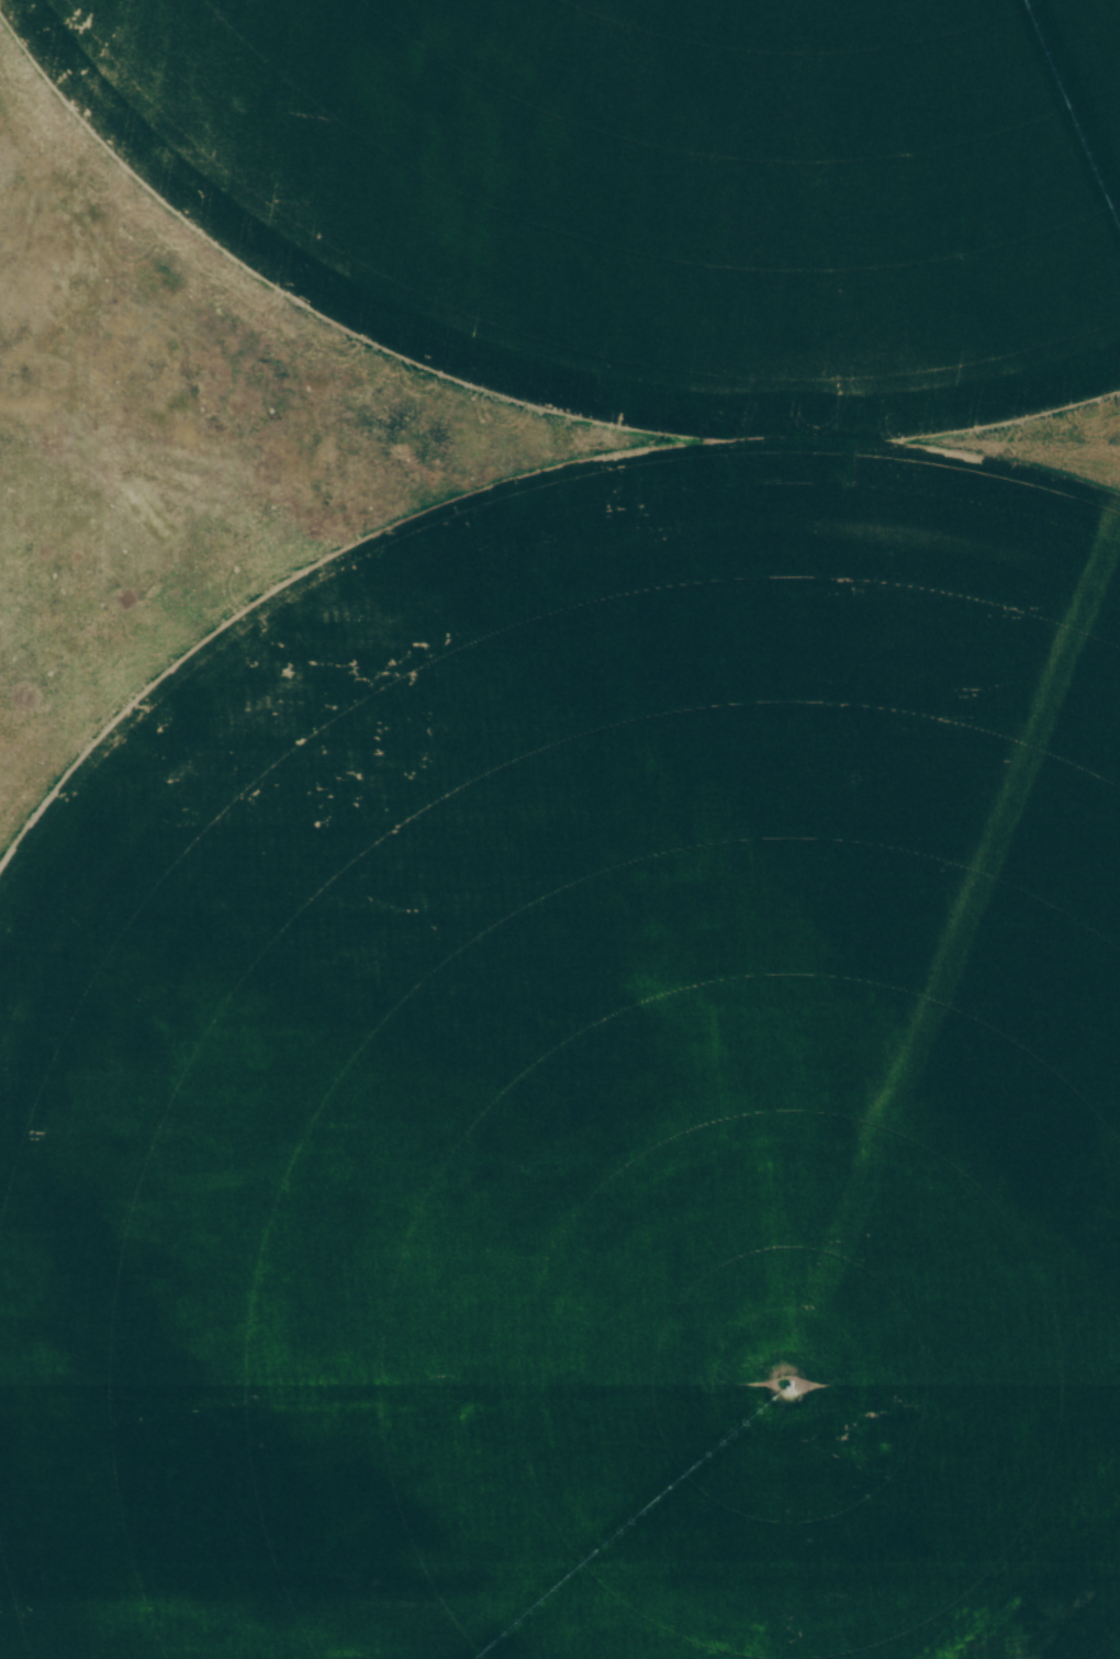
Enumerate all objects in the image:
crop: (646, 183)
crop: (587, 1092)

